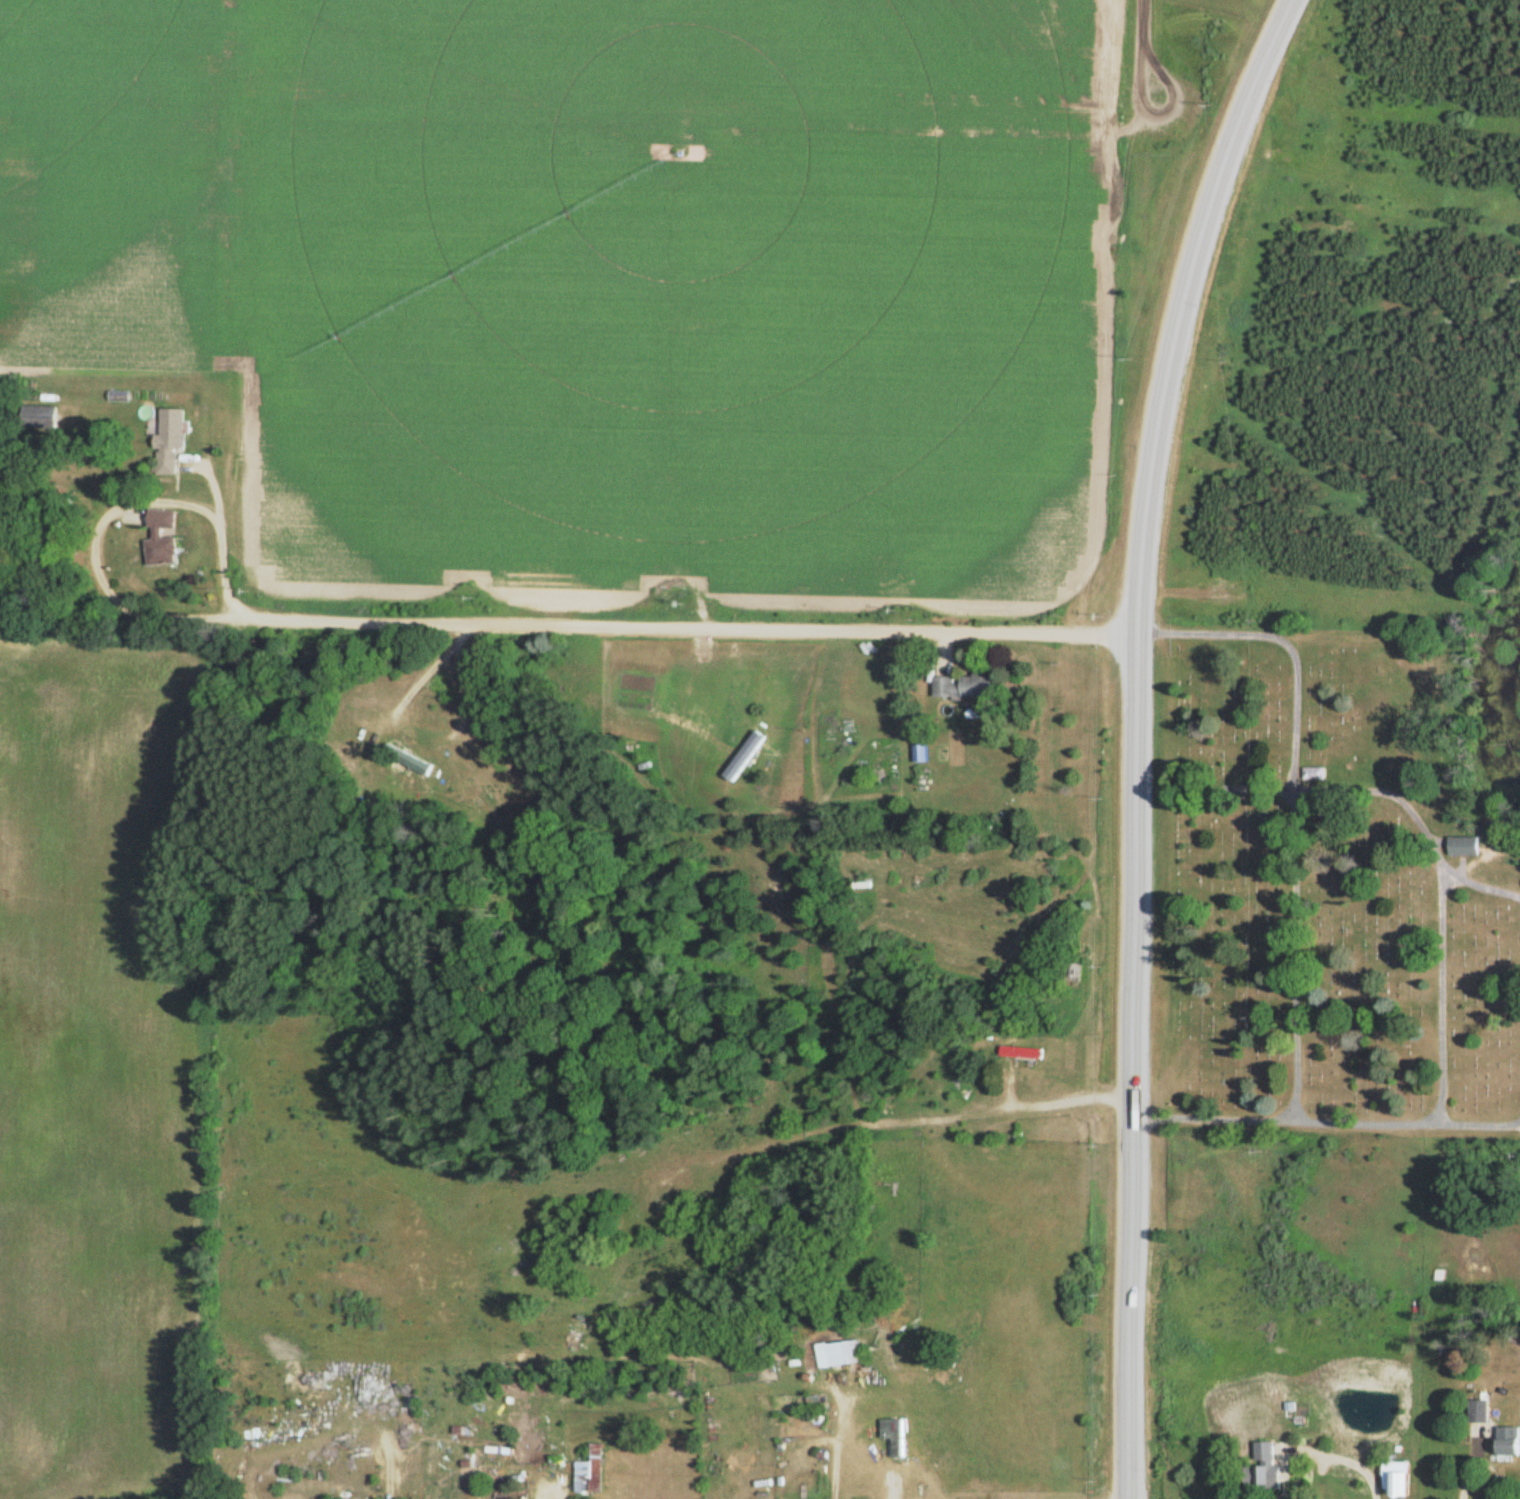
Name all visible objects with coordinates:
road: (987, 130)
building: (173, 441)
building: (166, 539)
road: (607, 624)
road: (423, 676)
building: (965, 687)
road: (1135, 737)
building: (421, 766)
building: (1467, 846)
park: (1330, 893)
road: (1299, 945)
building: (1076, 972)
building: (1024, 1052)
road: (1429, 1078)
road: (1463, 1123)
building: (842, 1354)
building: (1482, 1411)
building: (896, 1439)
building: (1511, 1441)
road: (836, 1445)
road: (1344, 1458)
building: (1267, 1464)
building: (594, 1474)
building: (1399, 1479)

